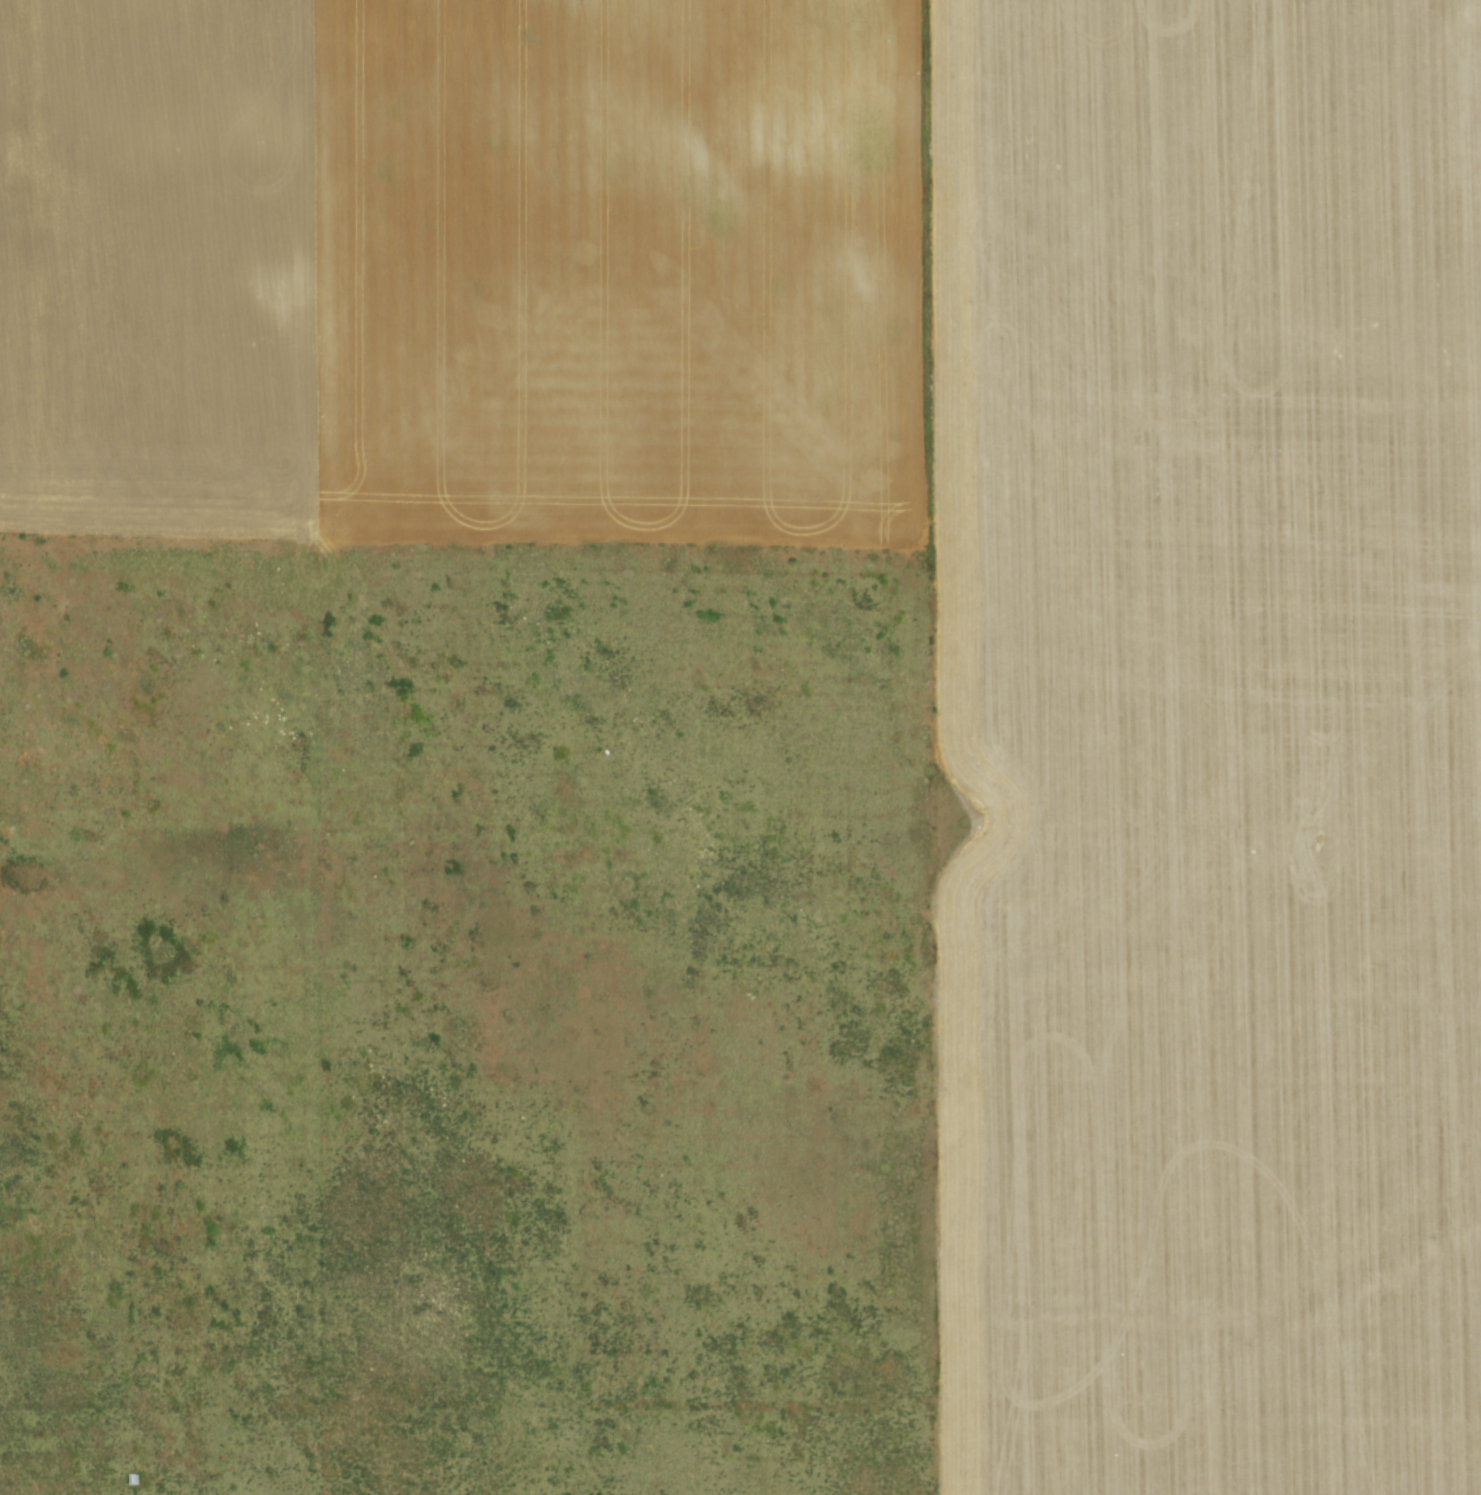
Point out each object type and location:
crop: (740, 747)

